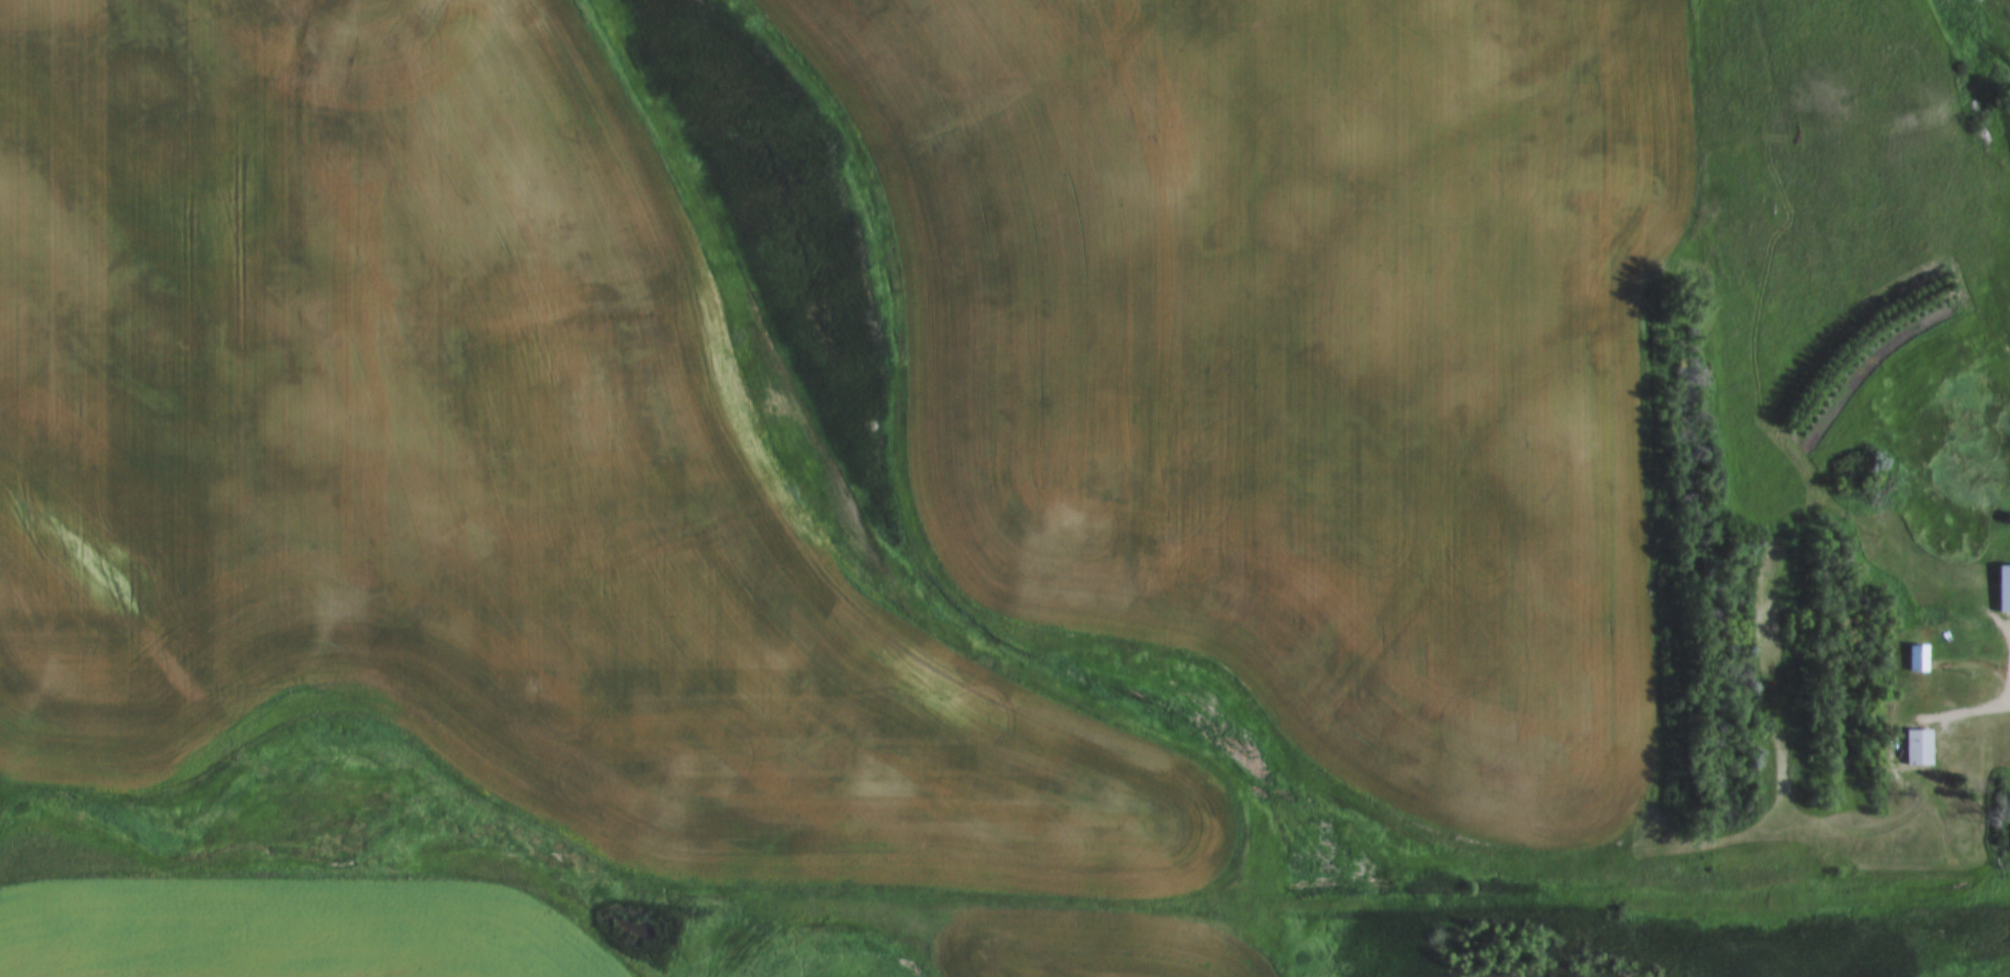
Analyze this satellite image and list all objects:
building: (2005, 591)
building: (1921, 660)
road: (1965, 713)
building: (1919, 750)

